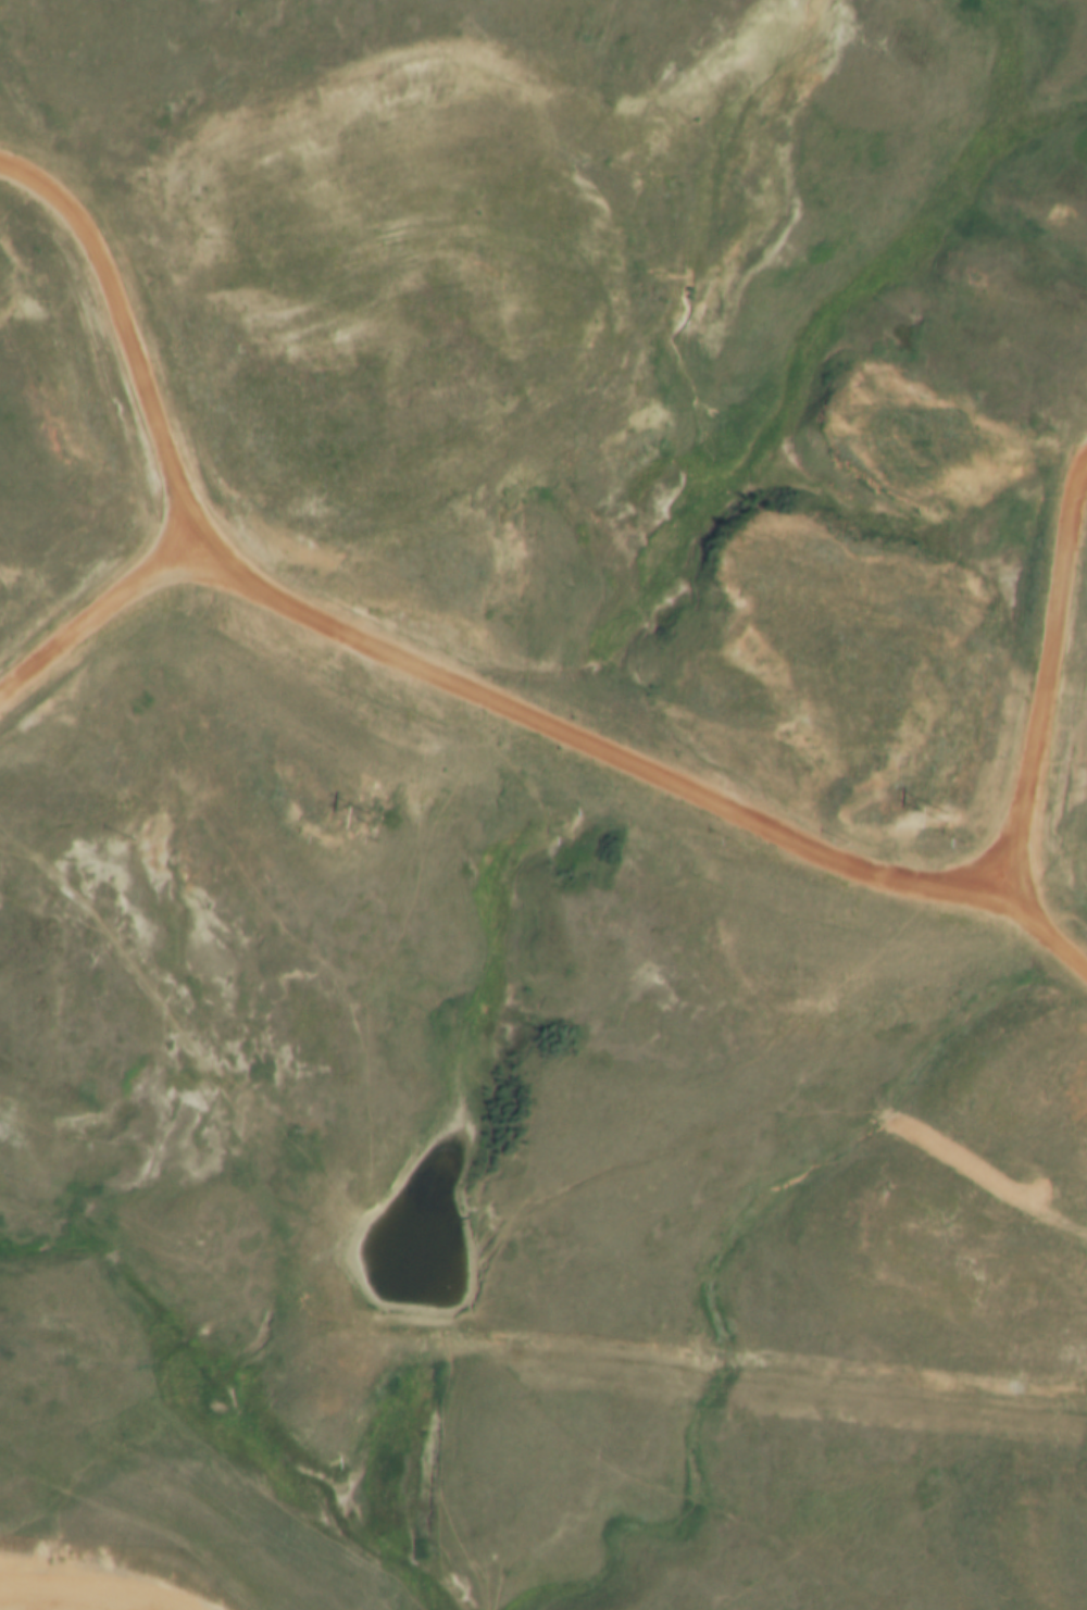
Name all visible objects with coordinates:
quarry: (299, 451)
road: (1037, 681)
quarry: (860, 786)

